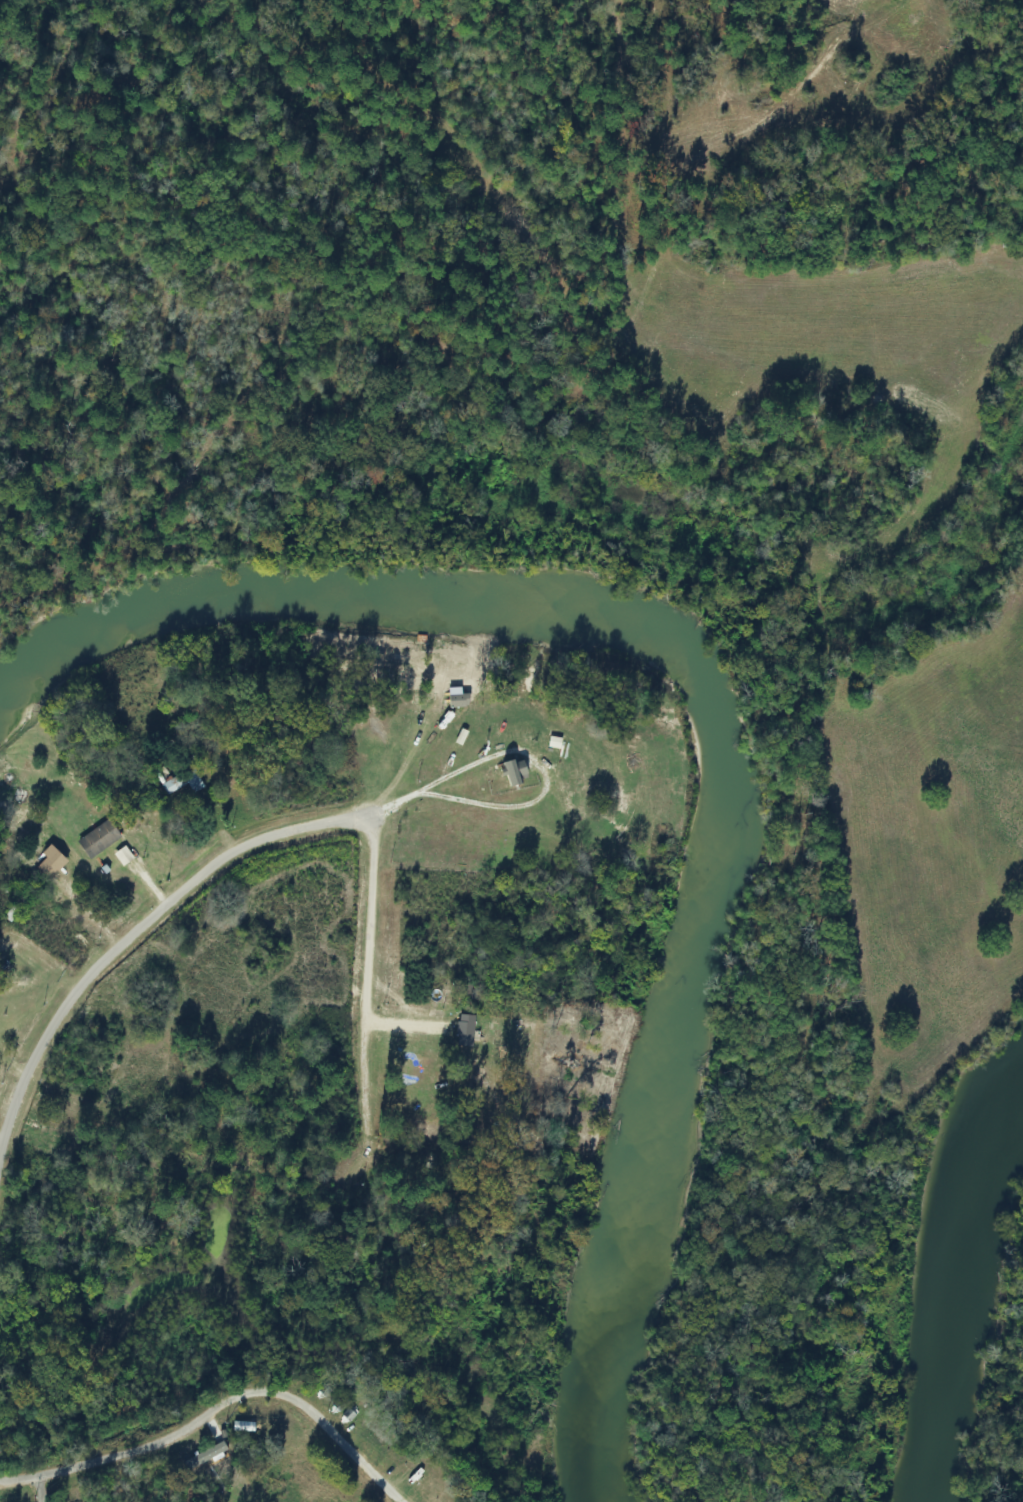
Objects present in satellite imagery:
building: (182, 781)
building: (99, 839)
building: (52, 861)
road: (241, 866)
building: (465, 989)
building: (419, 1162)
road: (221, 1419)

